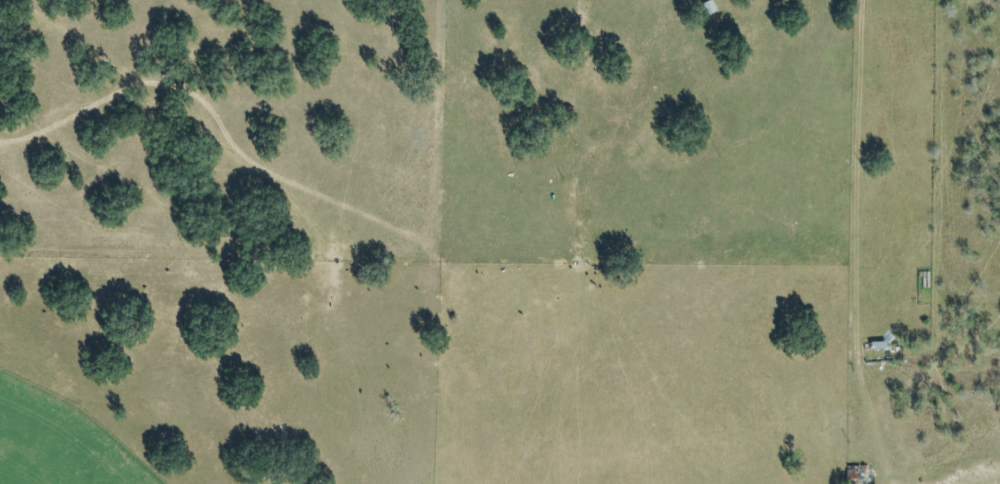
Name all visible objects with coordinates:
building: (707, 11)
building: (880, 357)

